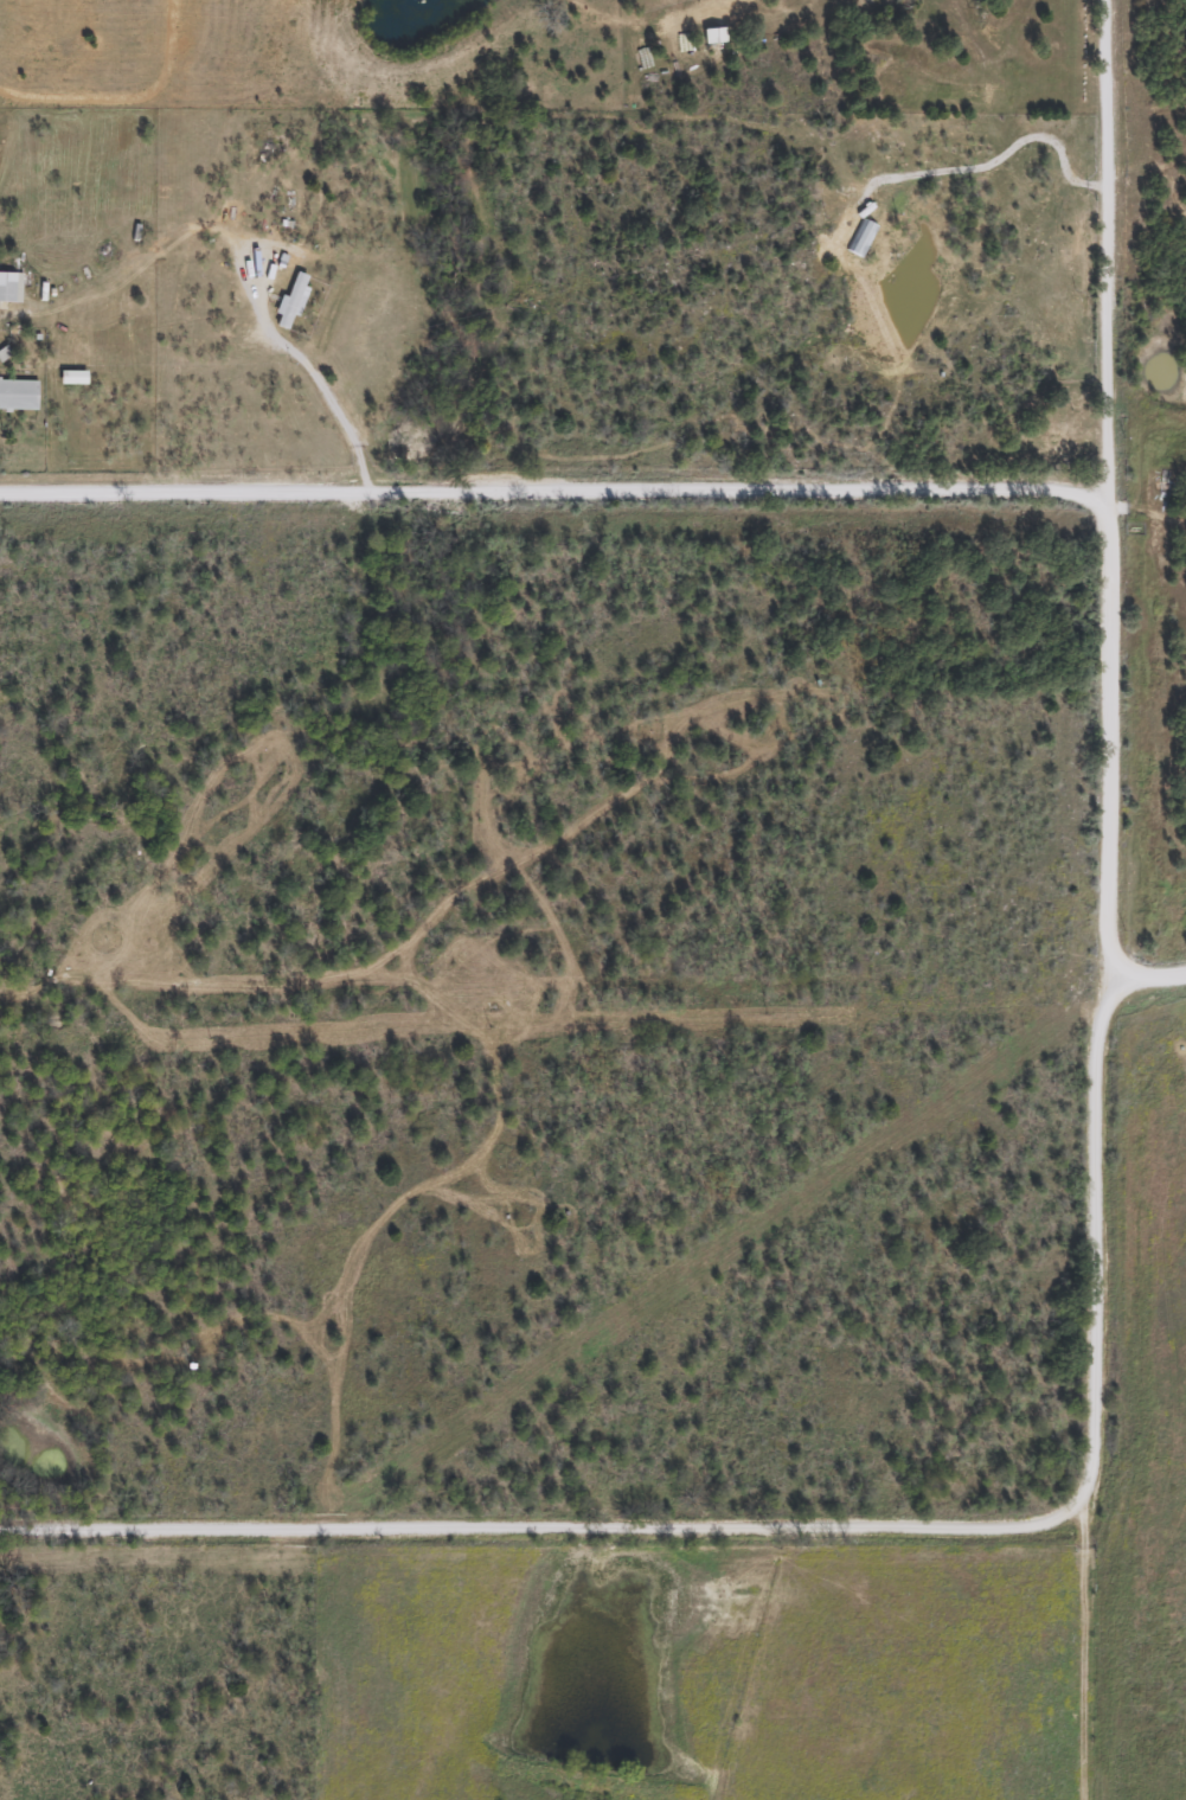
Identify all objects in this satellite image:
building: (712, 36)
building: (860, 238)
road: (224, 265)
building: (9, 287)
building: (71, 377)
building: (18, 395)
building: (1053, 434)
road: (560, 491)
road: (1110, 497)
road: (1133, 986)
road: (793, 1532)
road: (1047, 1666)

